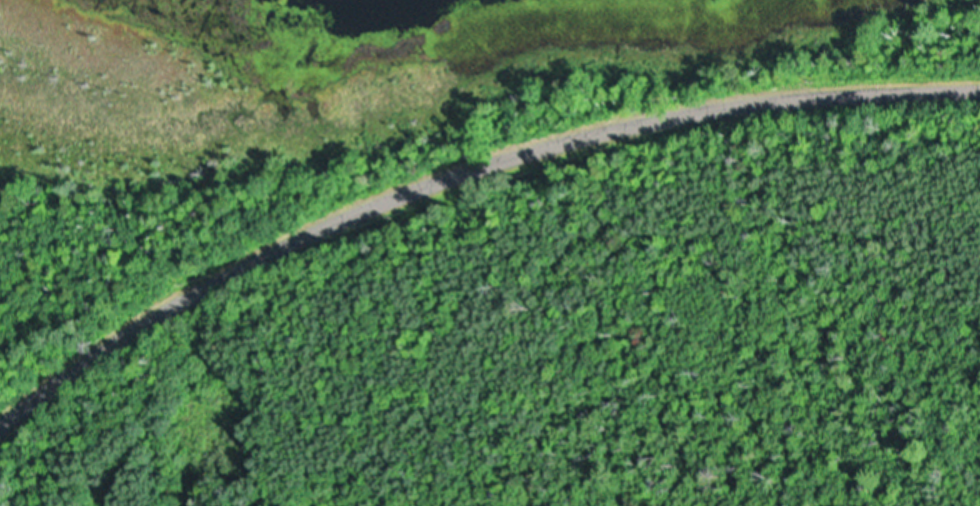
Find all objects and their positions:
road: (460, 168)

